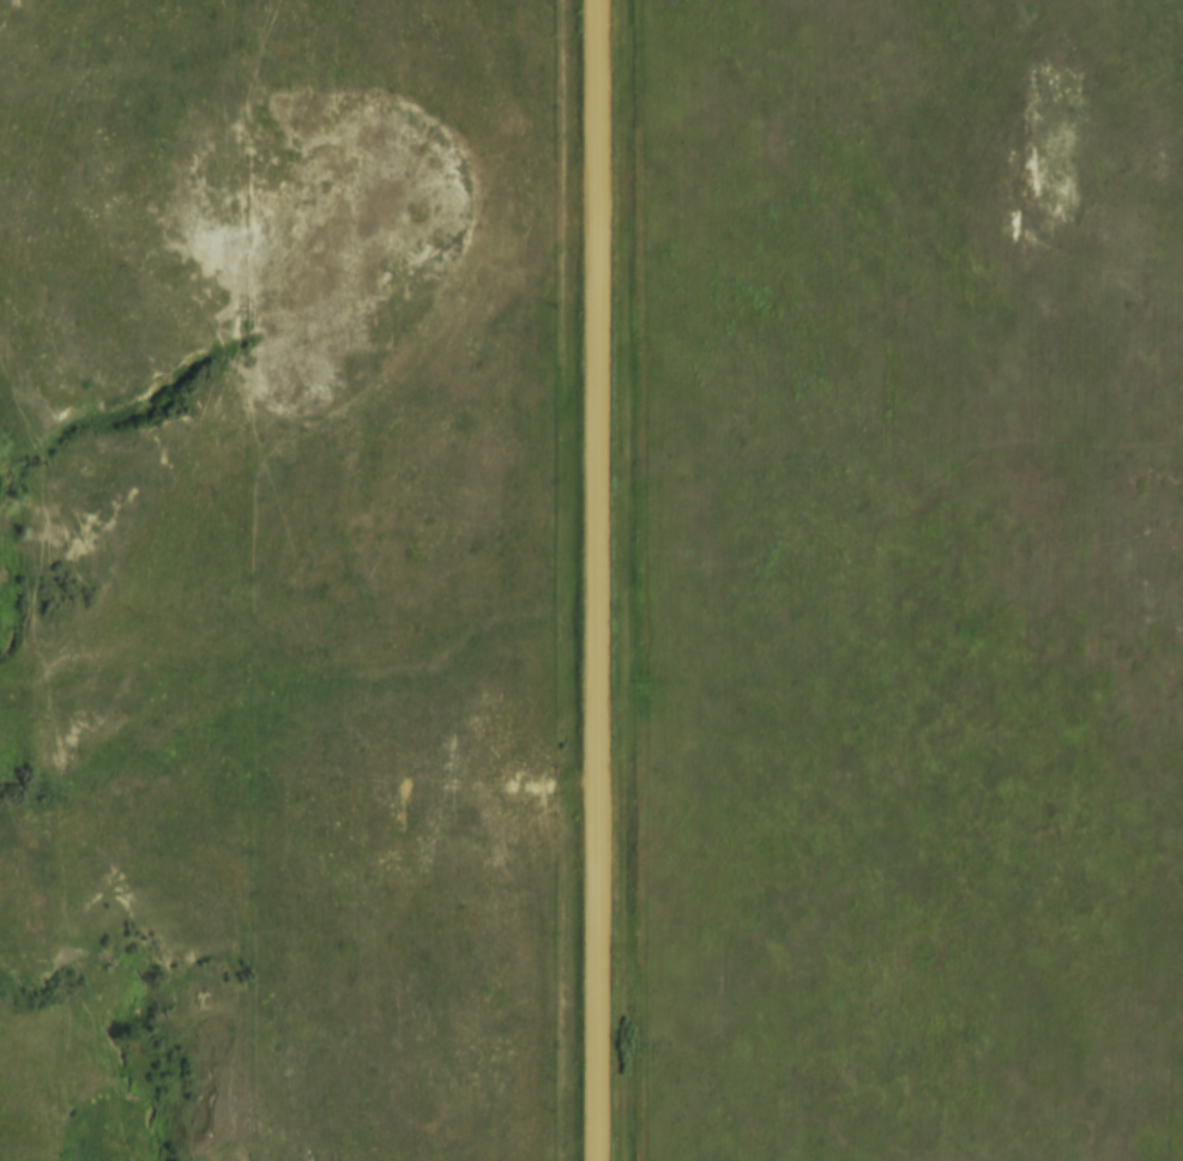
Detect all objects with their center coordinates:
road: (598, 580)

